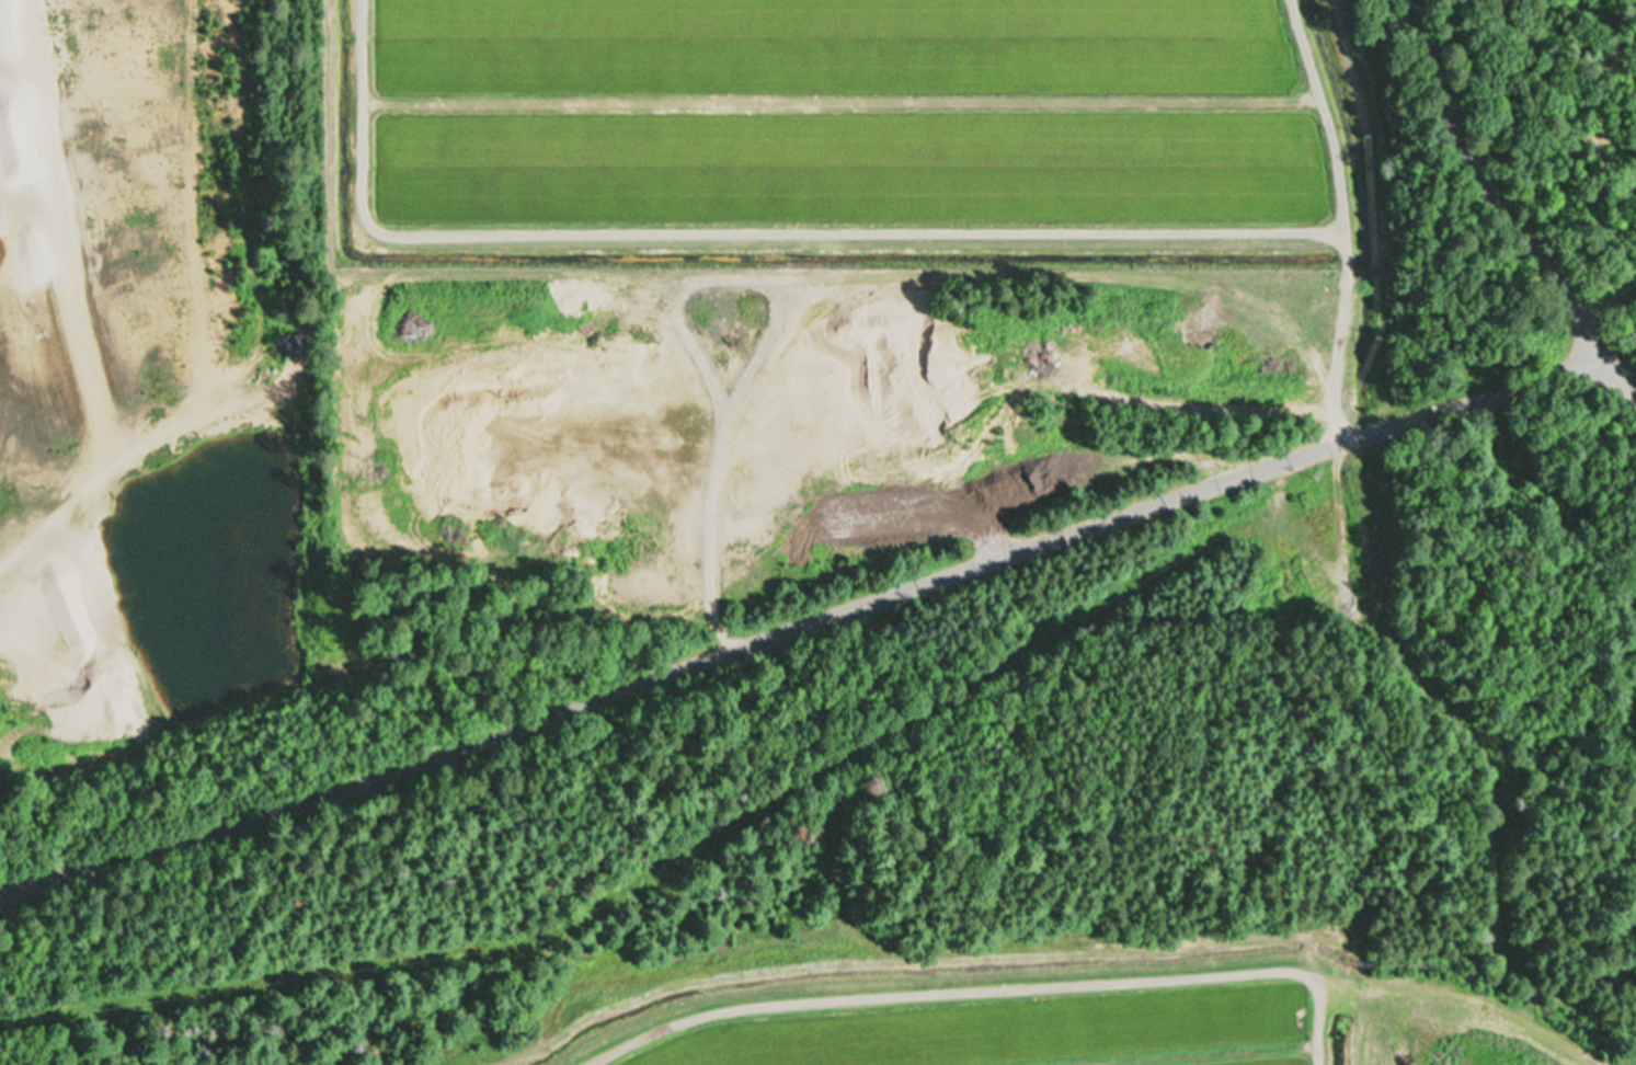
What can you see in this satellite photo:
crop: (849, 141)
road: (1498, 201)
road: (805, 619)
road: (1120, 928)
road: (1443, 1015)
crop: (972, 1022)
road: (593, 1064)

